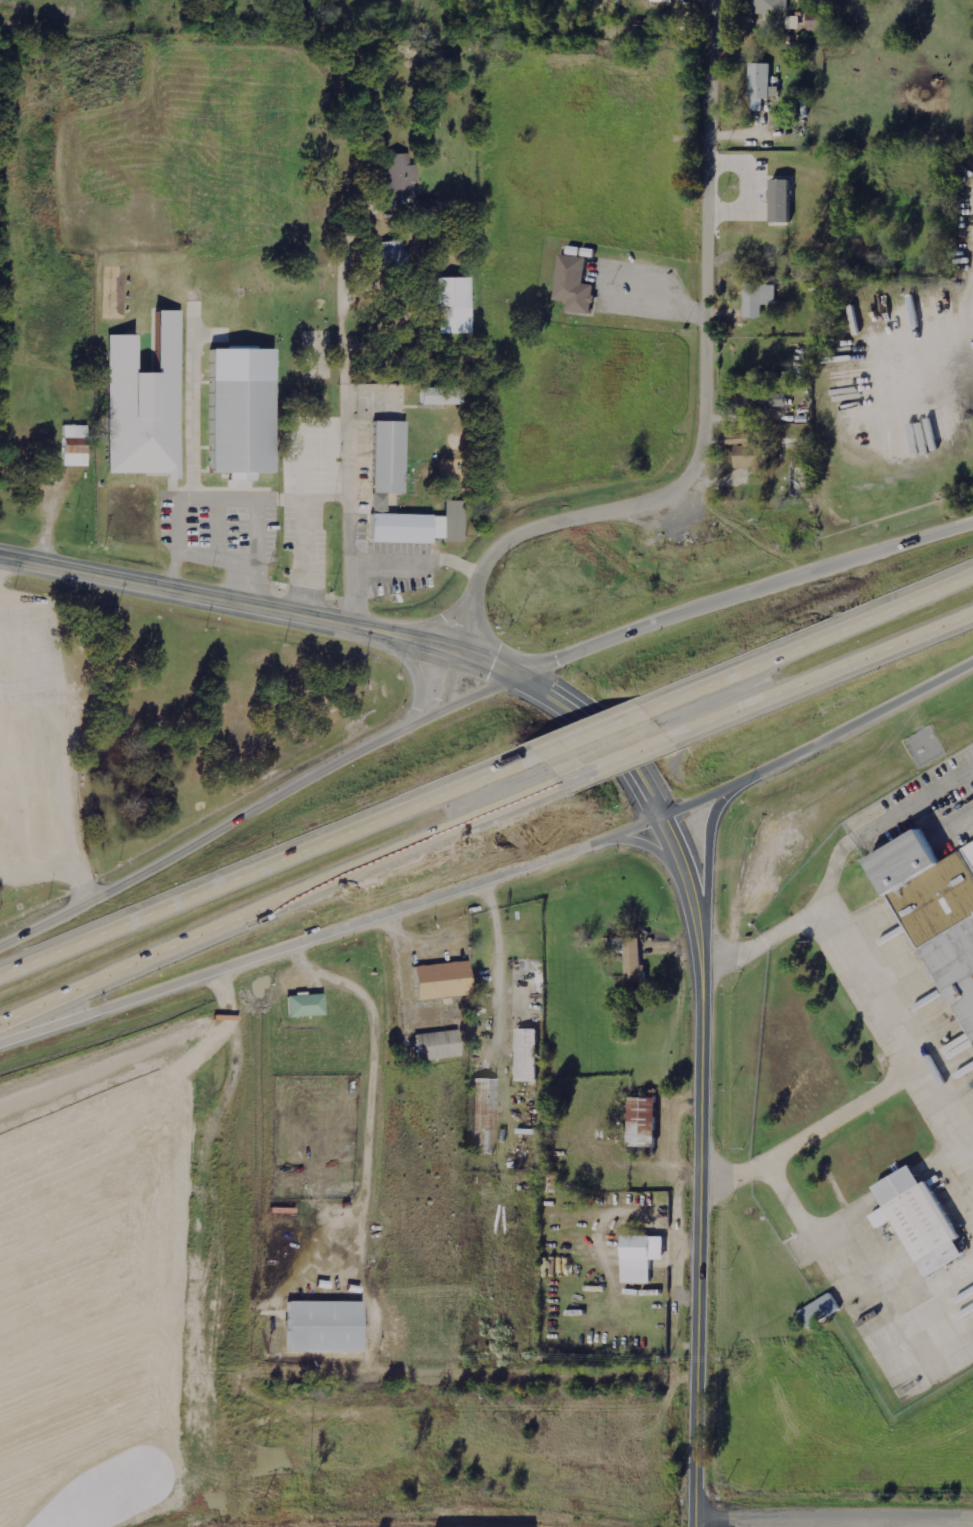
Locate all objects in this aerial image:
building: (669, 1)
building: (771, 5)
building: (796, 22)
building: (822, 22)
building: (763, 81)
building: (758, 106)
building: (401, 174)
building: (785, 201)
building: (428, 208)
building: (395, 257)
building: (576, 285)
building: (760, 299)
building: (456, 307)
road: (712, 370)
building: (443, 397)
building: (773, 399)
building: (148, 405)
building: (246, 413)
building: (77, 446)
building: (747, 453)
building: (391, 458)
road: (230, 598)
road: (444, 620)
road: (479, 629)
road: (807, 638)
road: (459, 652)
road: (411, 668)
road: (822, 677)
road: (470, 695)
road: (588, 730)
road: (619, 762)
road: (706, 842)
road: (652, 845)
road: (268, 860)
road: (50, 864)
road: (496, 875)
road: (283, 903)
building: (931, 907)
road: (771, 938)
building: (633, 958)
building: (445, 981)
road: (887, 991)
building: (308, 1005)
road: (701, 1034)
building: (439, 1045)
building: (530, 1054)
building: (486, 1116)
building: (647, 1122)
road: (816, 1131)
building: (913, 1220)
building: (644, 1257)
building: (817, 1309)
building: (319, 1328)
road: (459, 1372)
road: (87, 1501)
road: (833, 1514)

